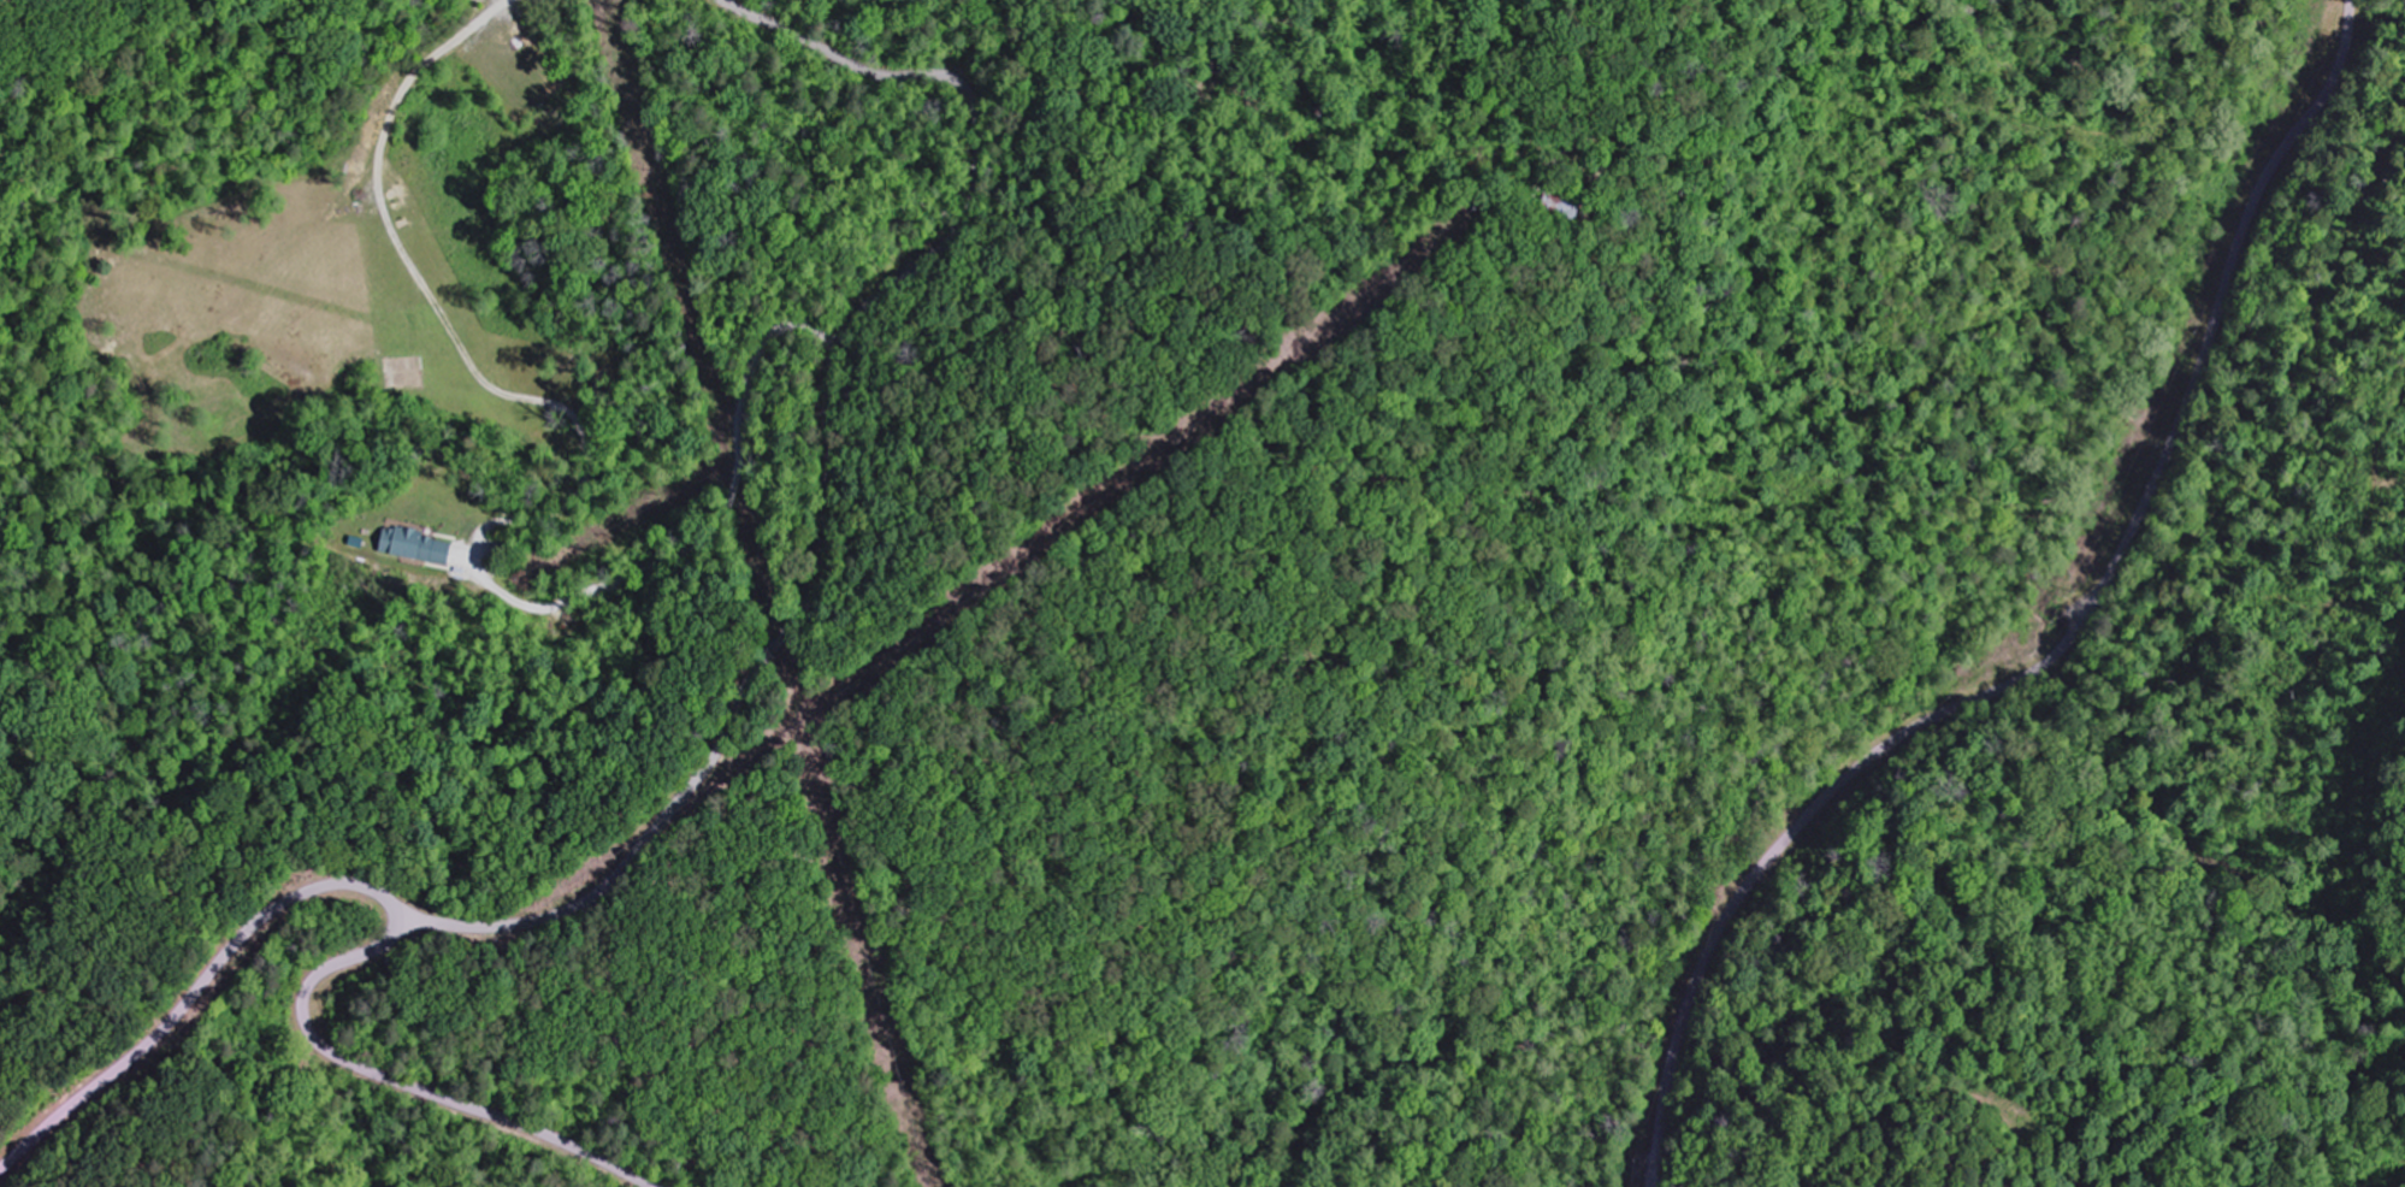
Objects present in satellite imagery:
road: (823, 472)
road: (719, 526)
road: (2061, 649)
road: (394, 928)

